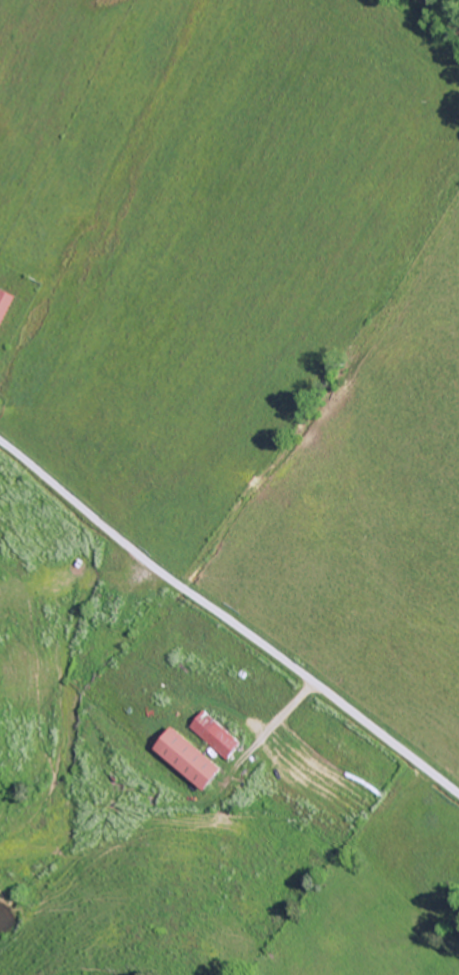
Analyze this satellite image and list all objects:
river: (450, 8)
building: (5, 307)
road: (228, 620)
building: (218, 738)
building: (191, 762)

